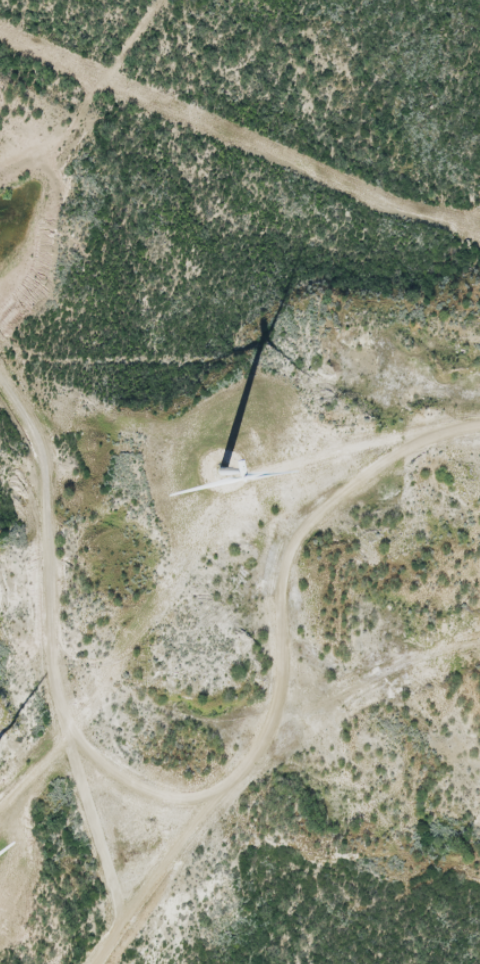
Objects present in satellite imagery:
wind turbine: (225, 470)

